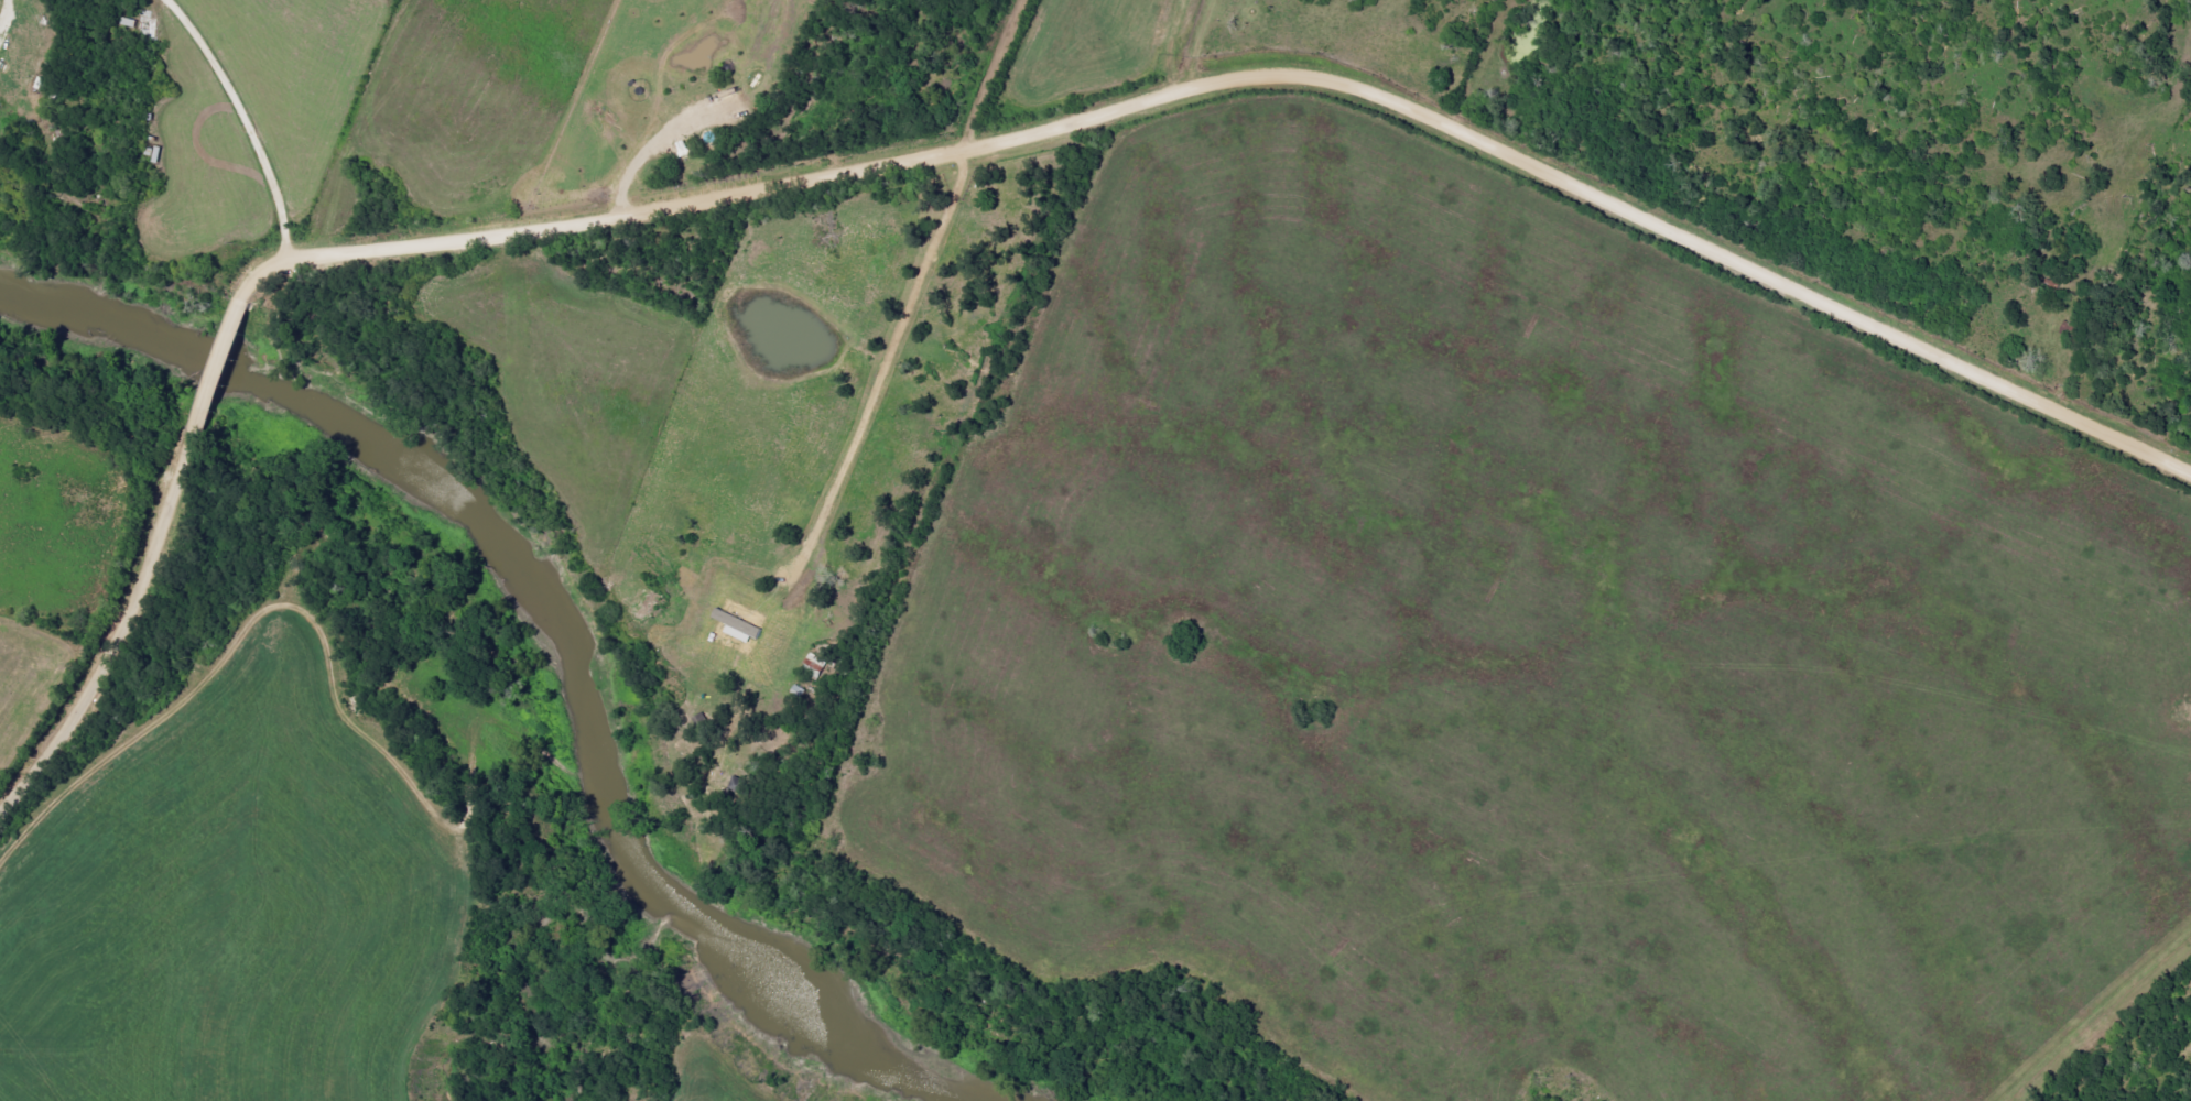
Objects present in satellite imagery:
road: (995, 70)
road: (1244, 72)
road: (243, 122)
road: (641, 163)
road: (224, 363)
road: (874, 394)
building: (739, 628)
road: (128, 634)
building: (816, 664)
road: (2093, 977)

